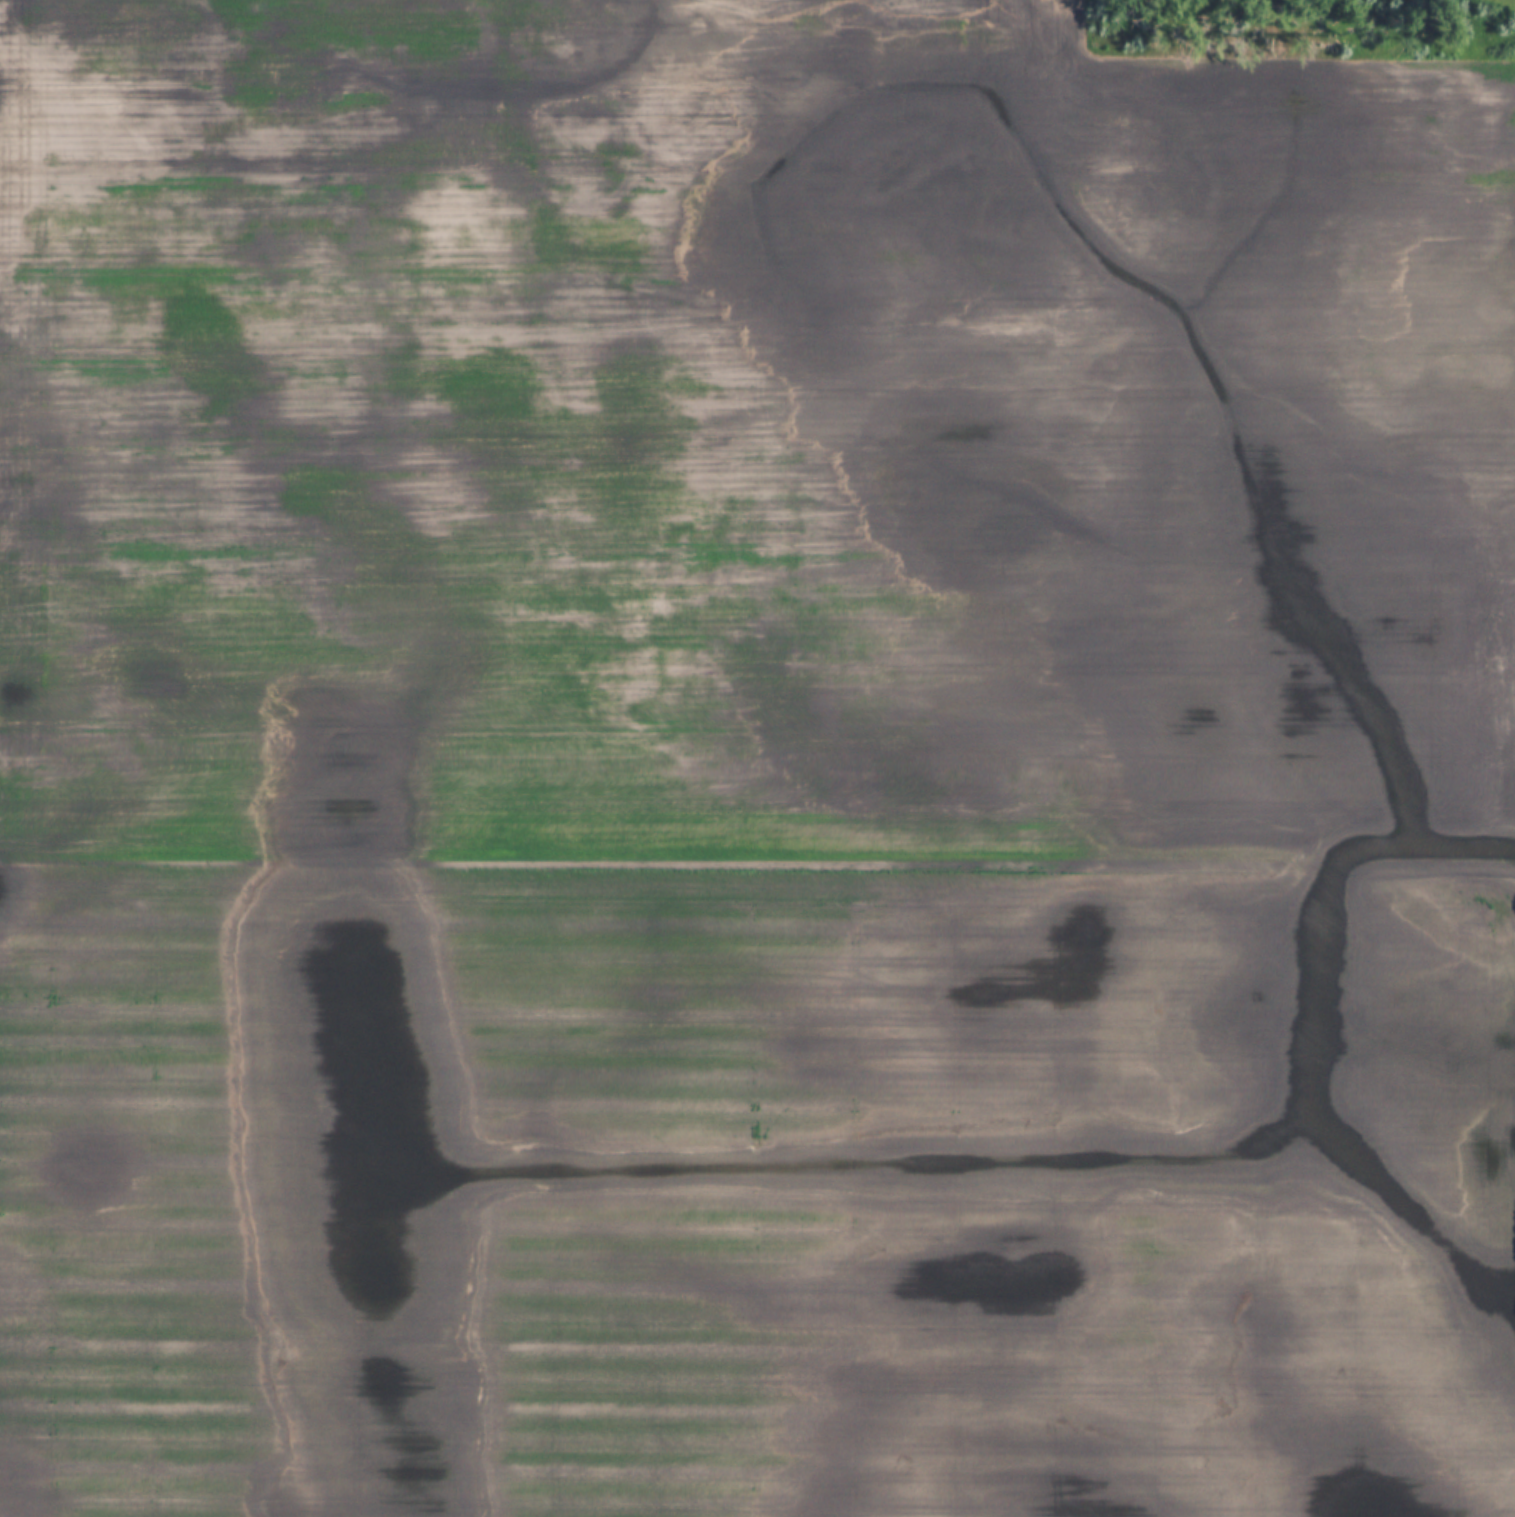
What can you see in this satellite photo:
crop: (752, 765)

